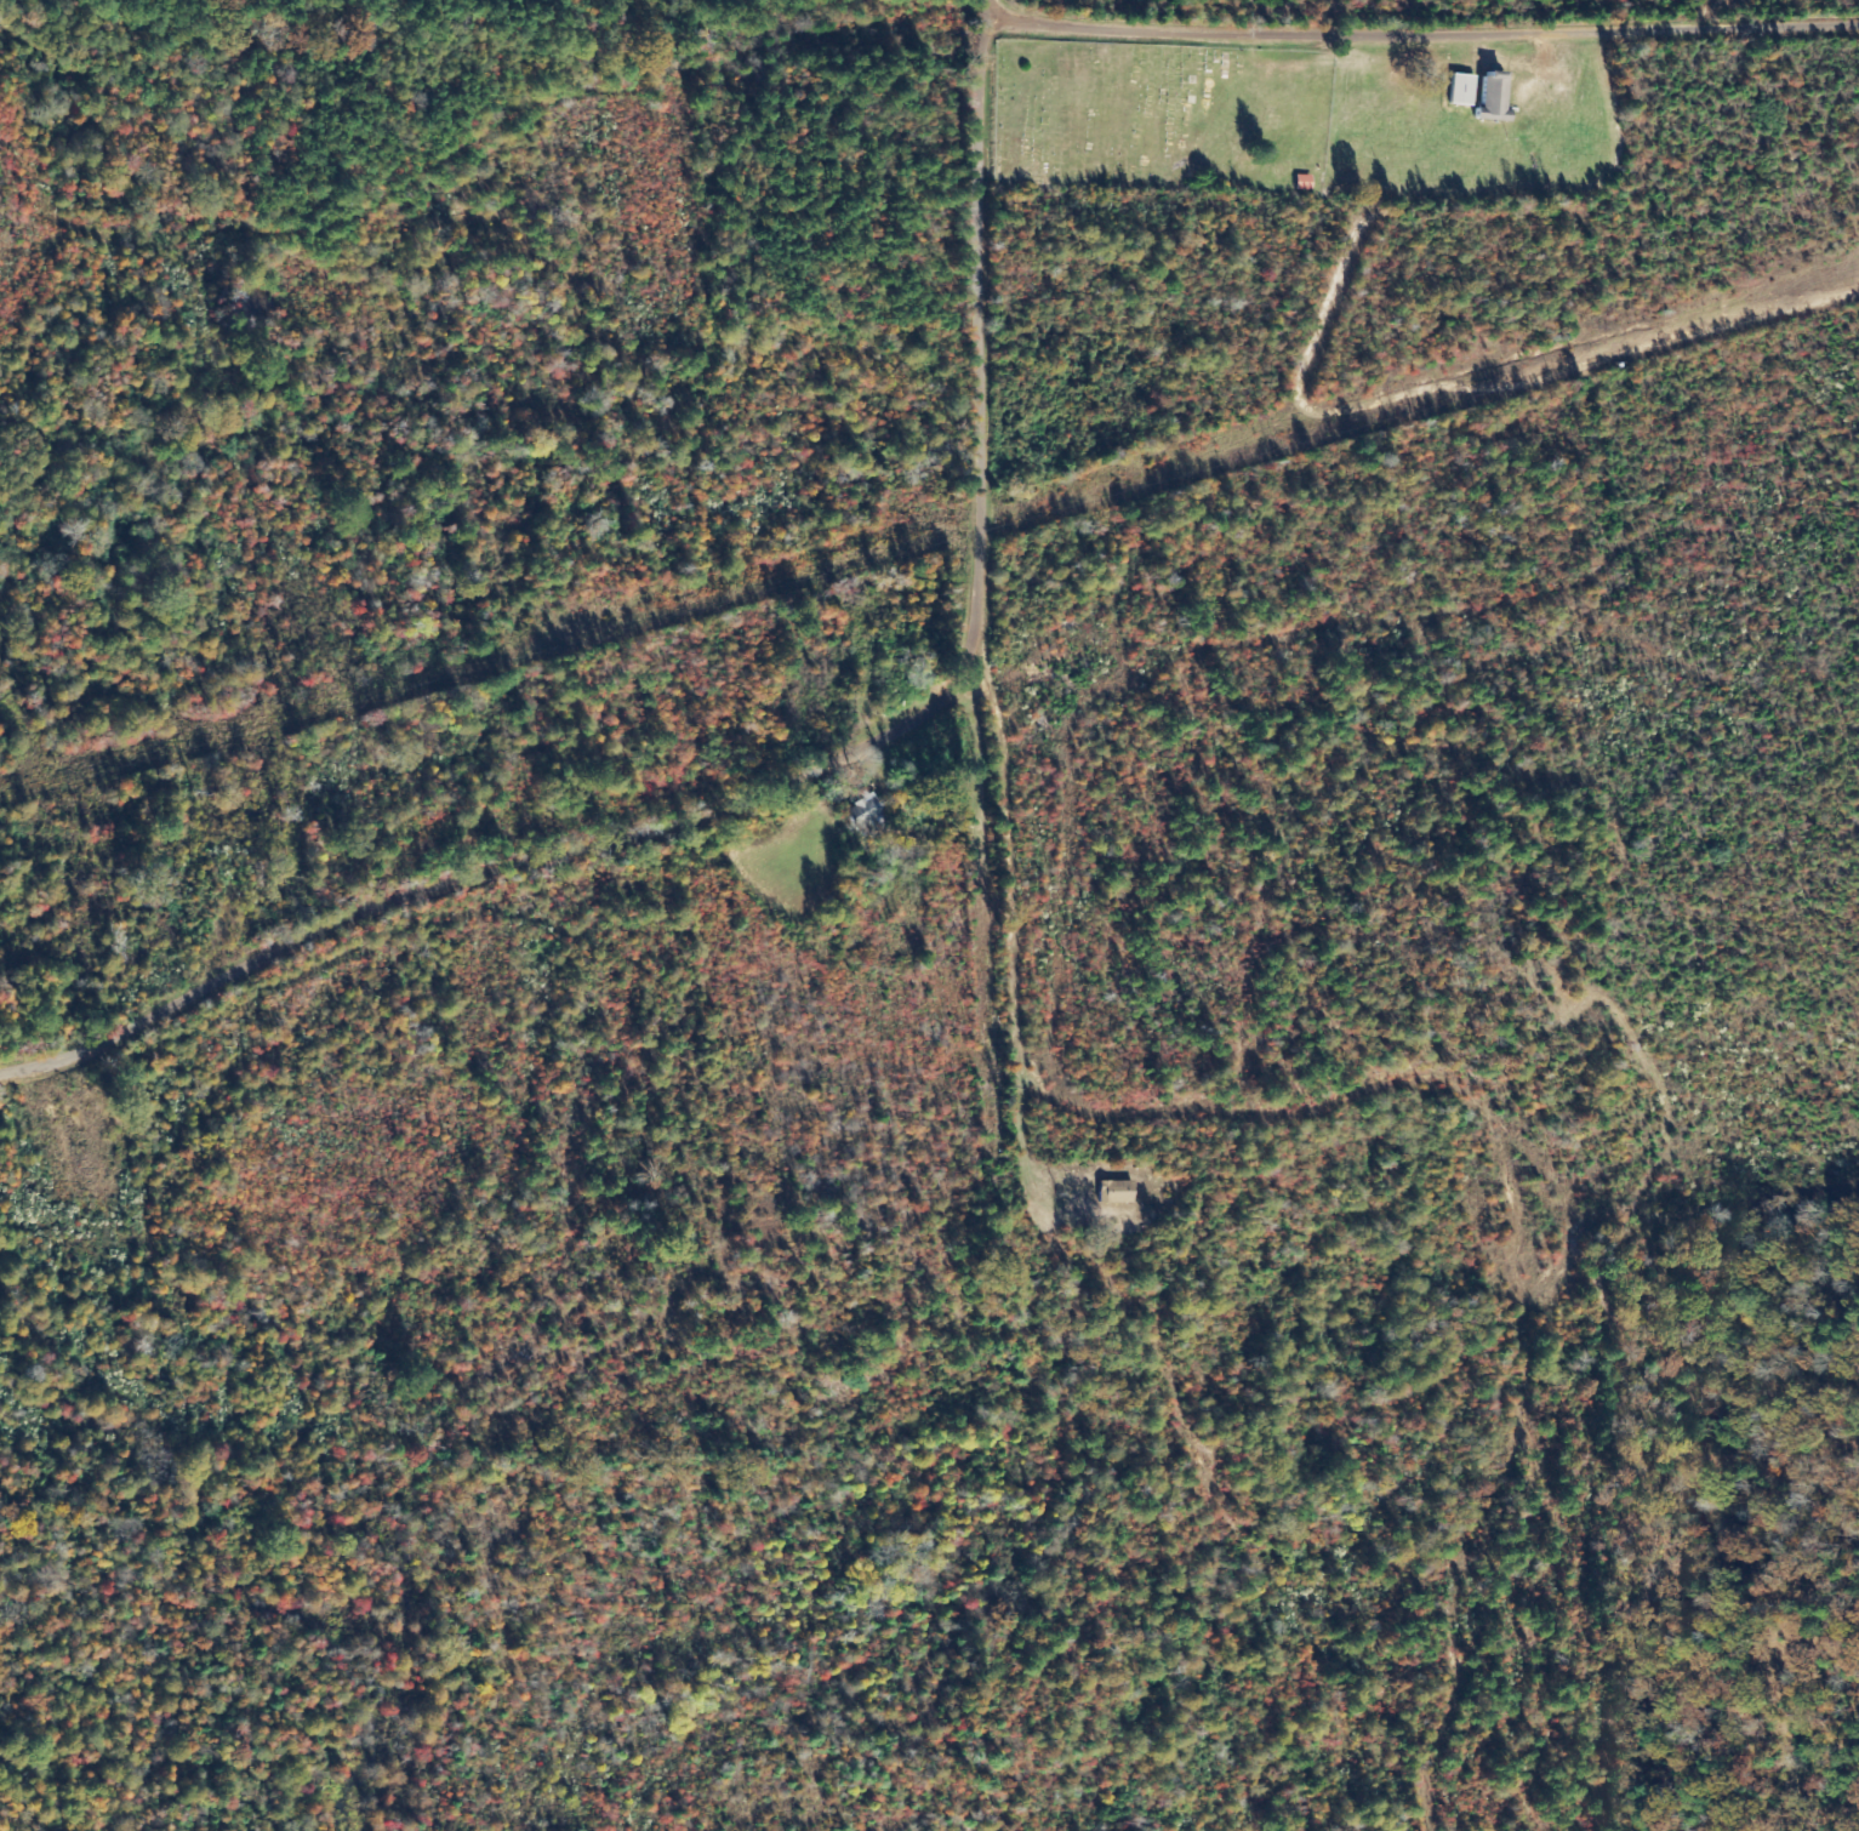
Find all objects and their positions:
road: (1420, 30)
building: (1461, 89)
building: (1492, 95)
park: (1163, 116)
building: (1304, 181)
road: (810, 776)
building: (867, 815)
building: (1114, 1190)

